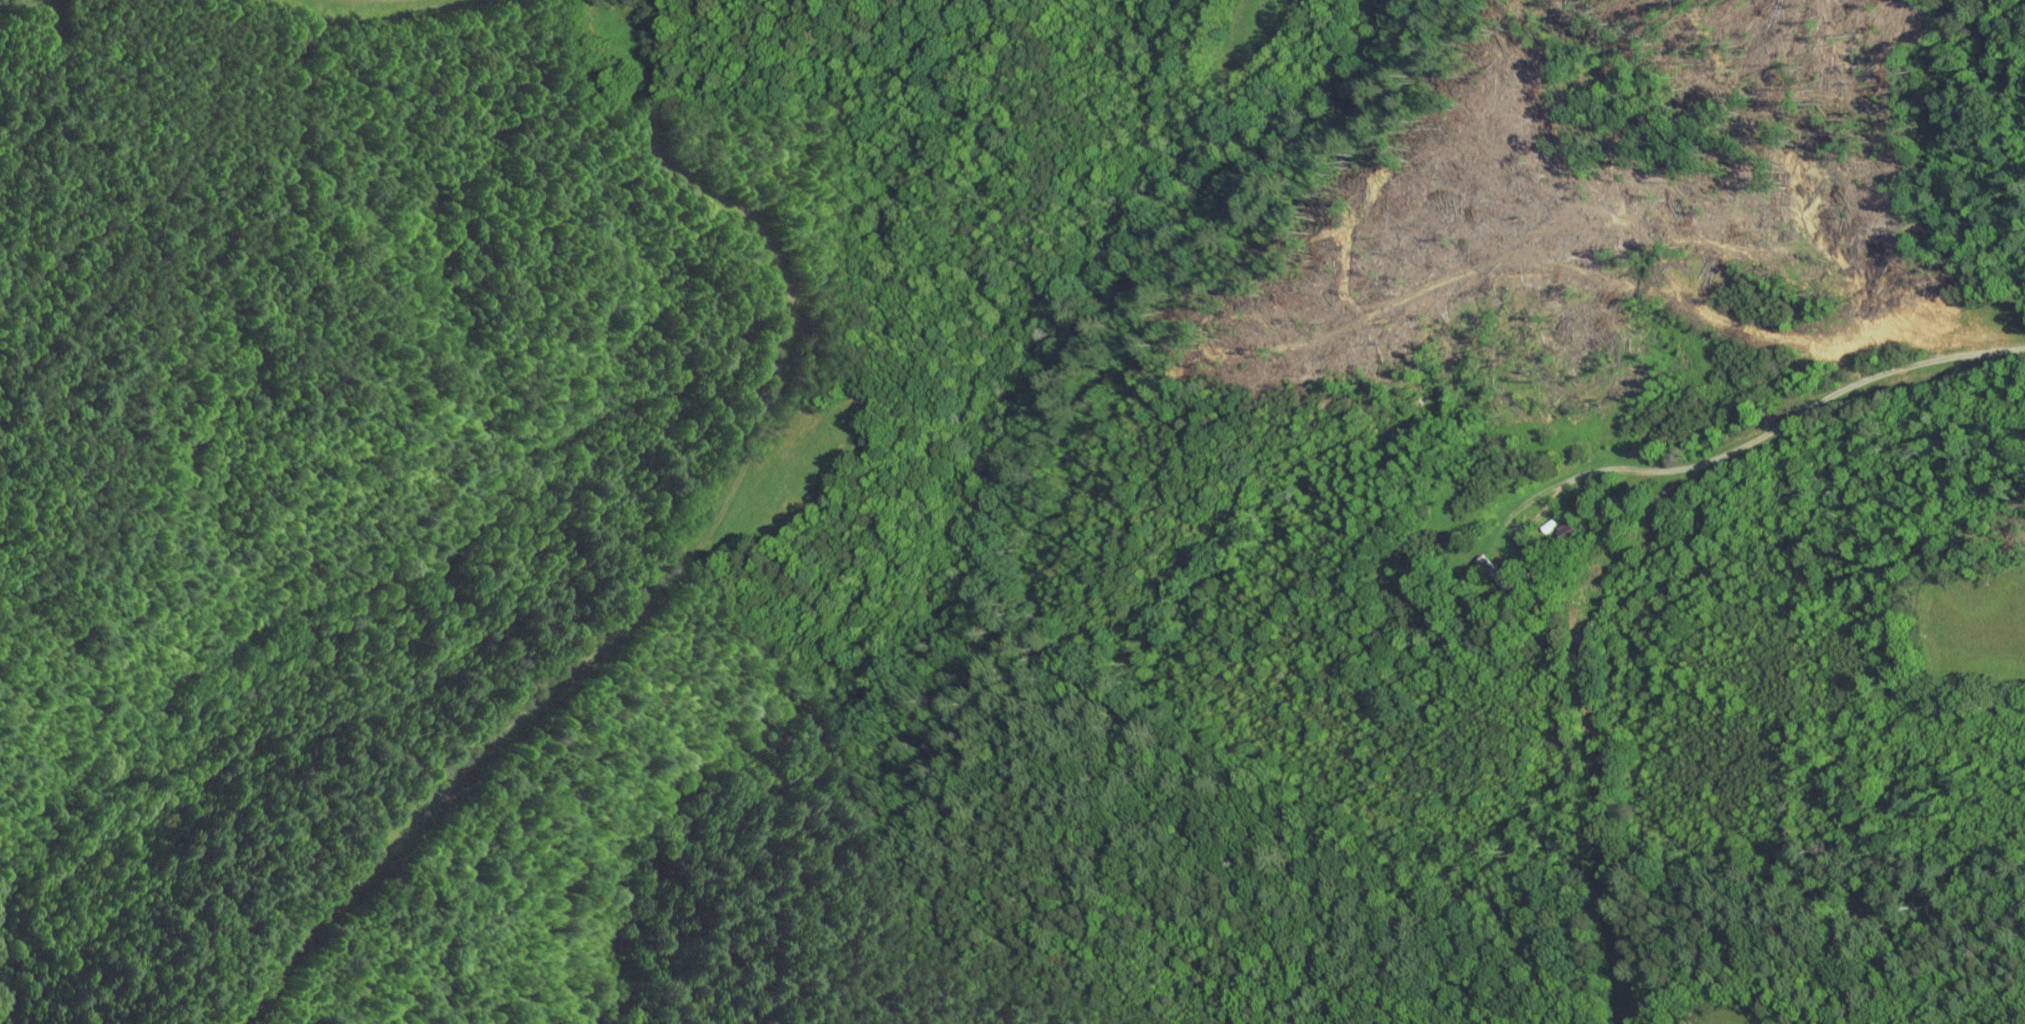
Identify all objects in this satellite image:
road: (1752, 438)

